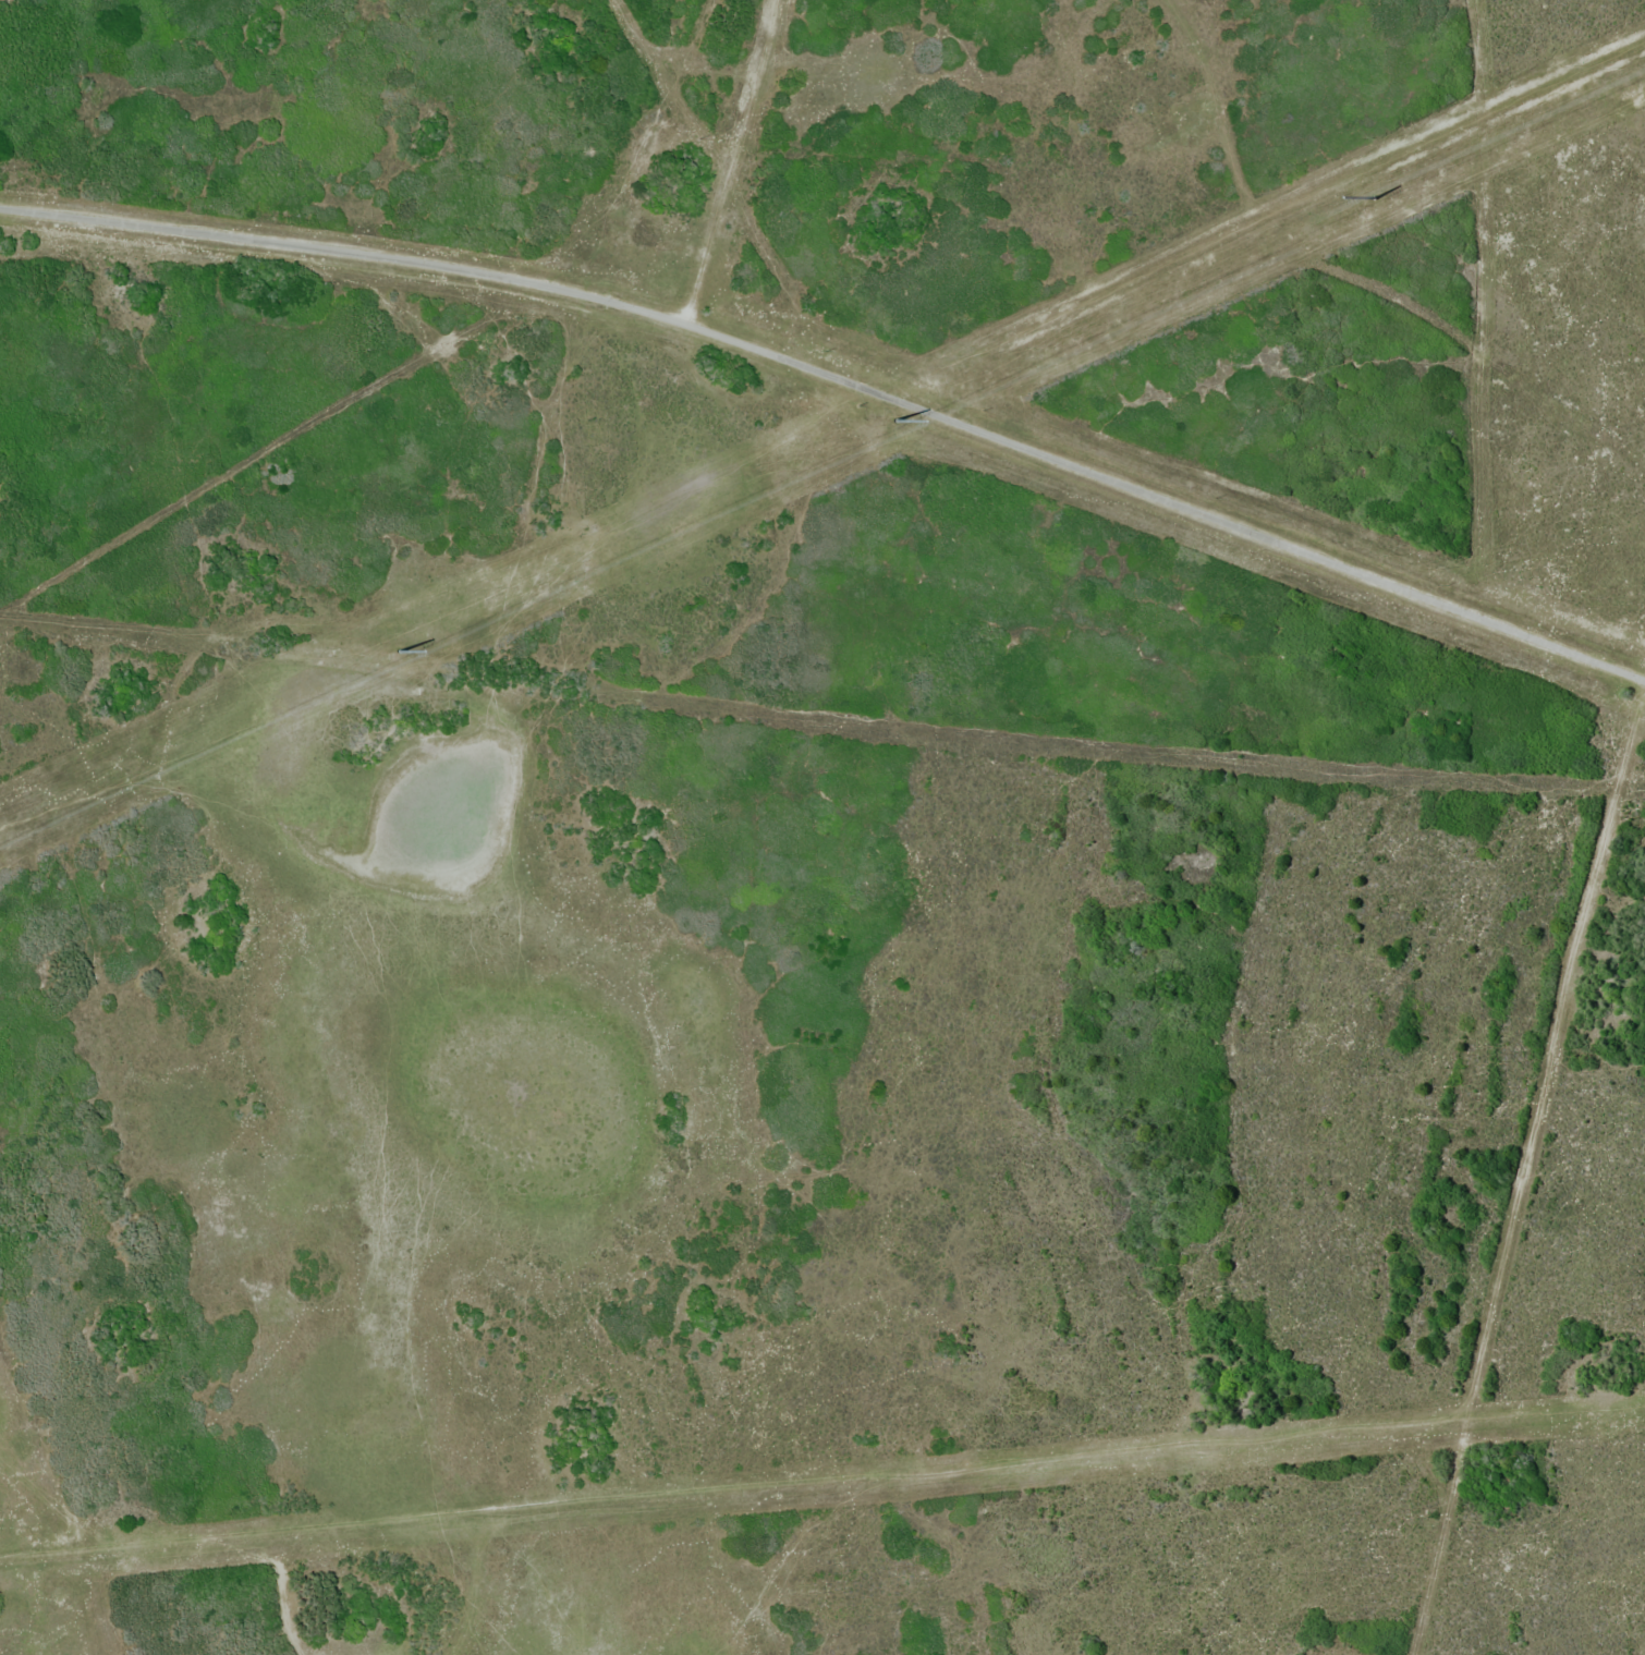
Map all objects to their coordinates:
power tower: (1375, 198)
road: (838, 377)
power tower: (891, 419)
power tower: (398, 649)

